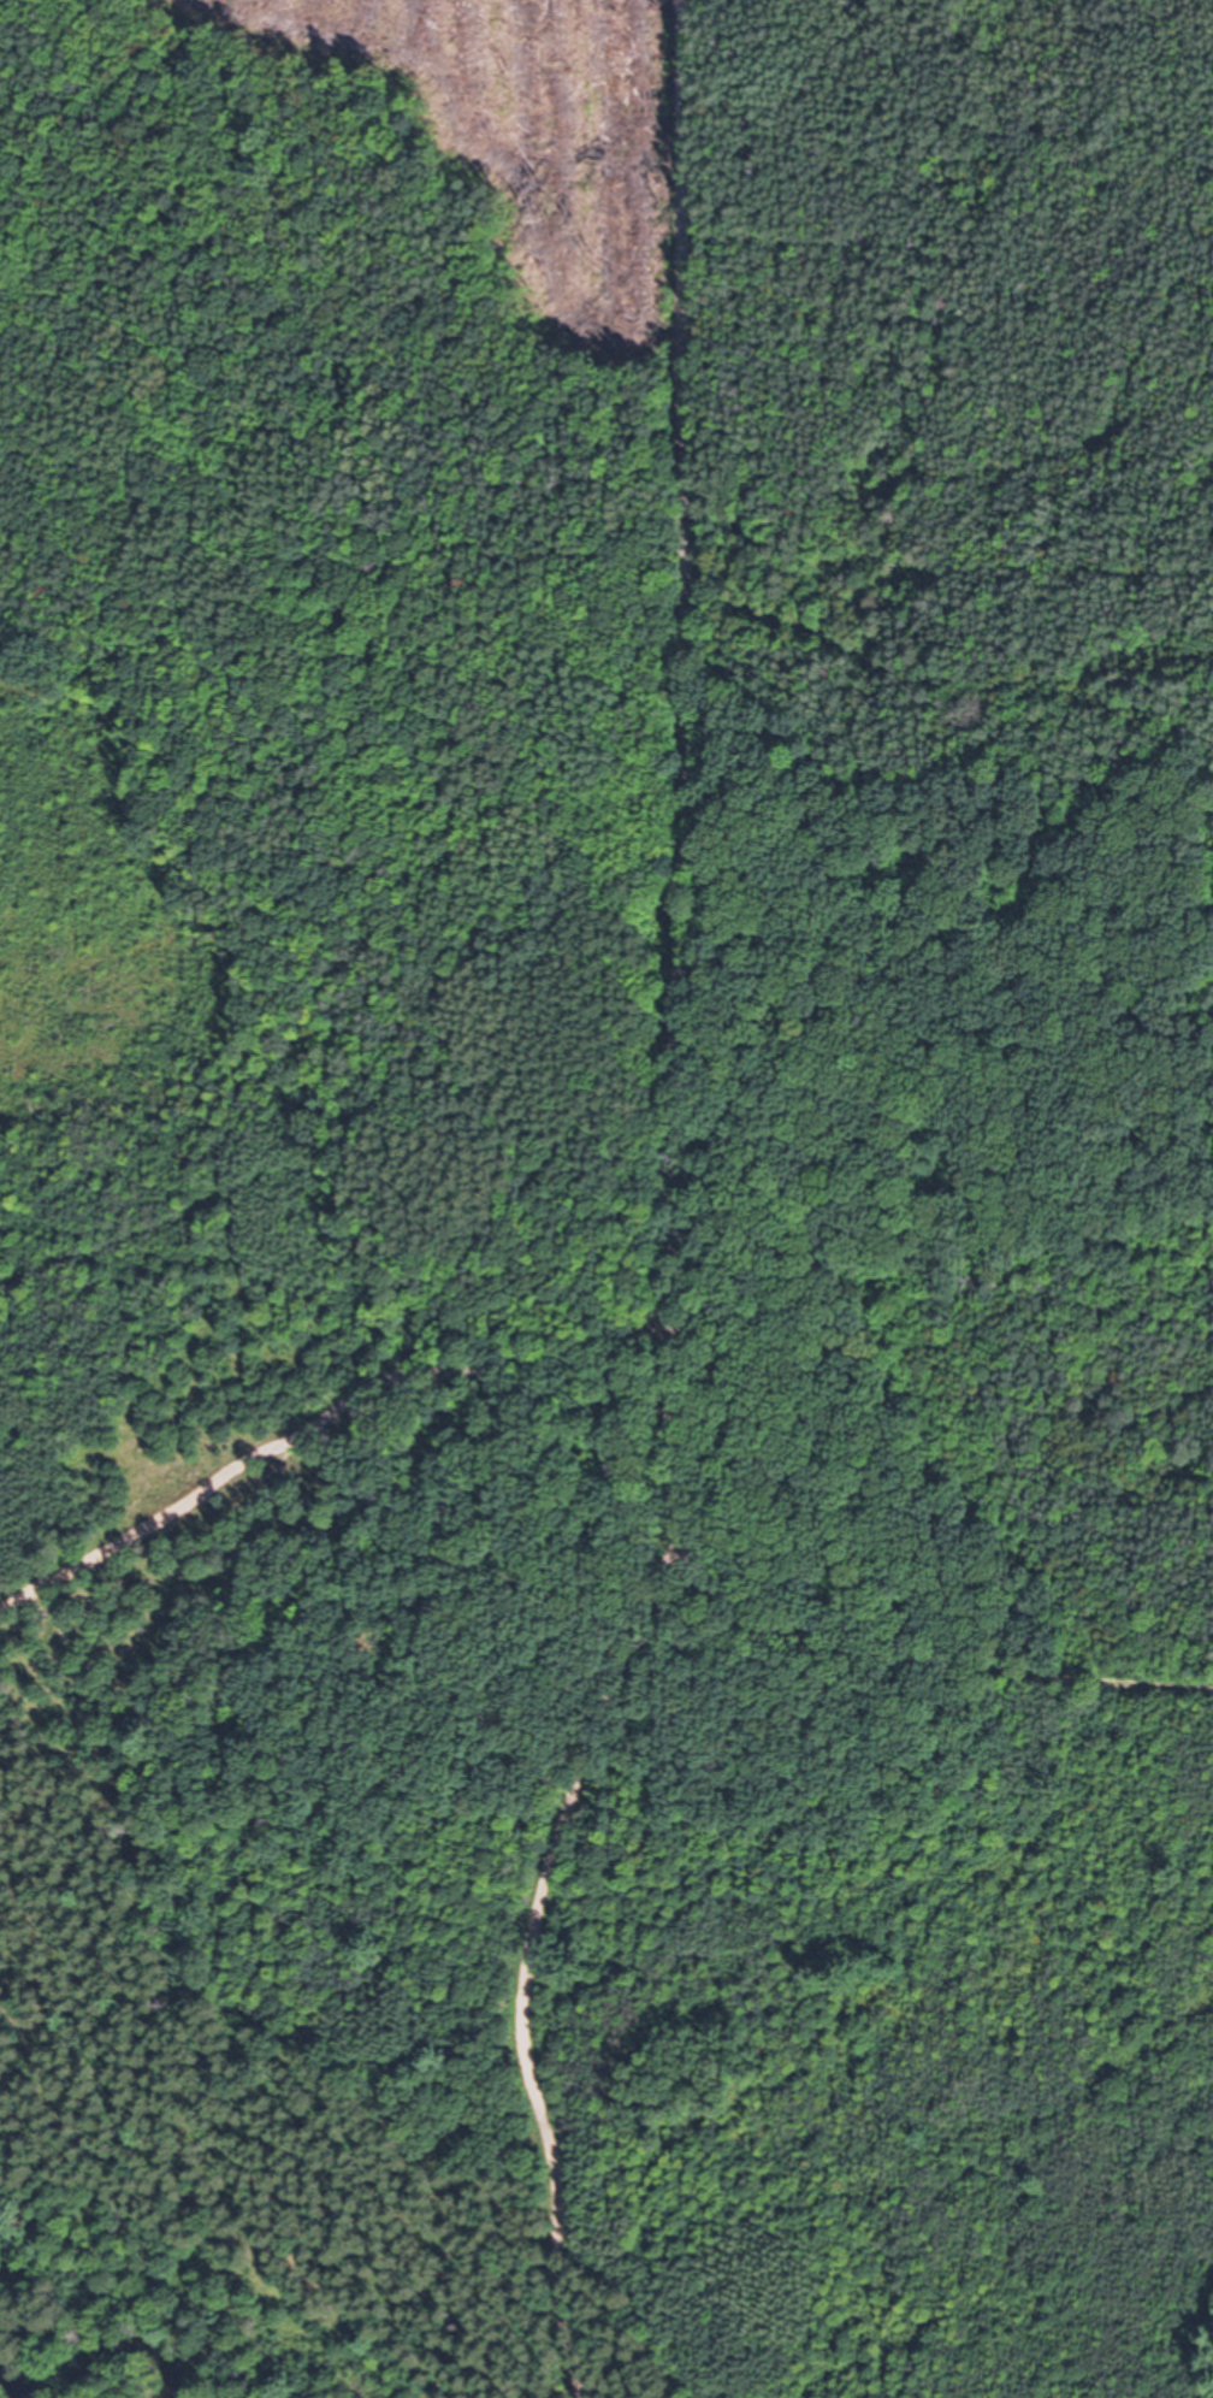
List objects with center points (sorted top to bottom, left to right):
road: (239, 2201)

